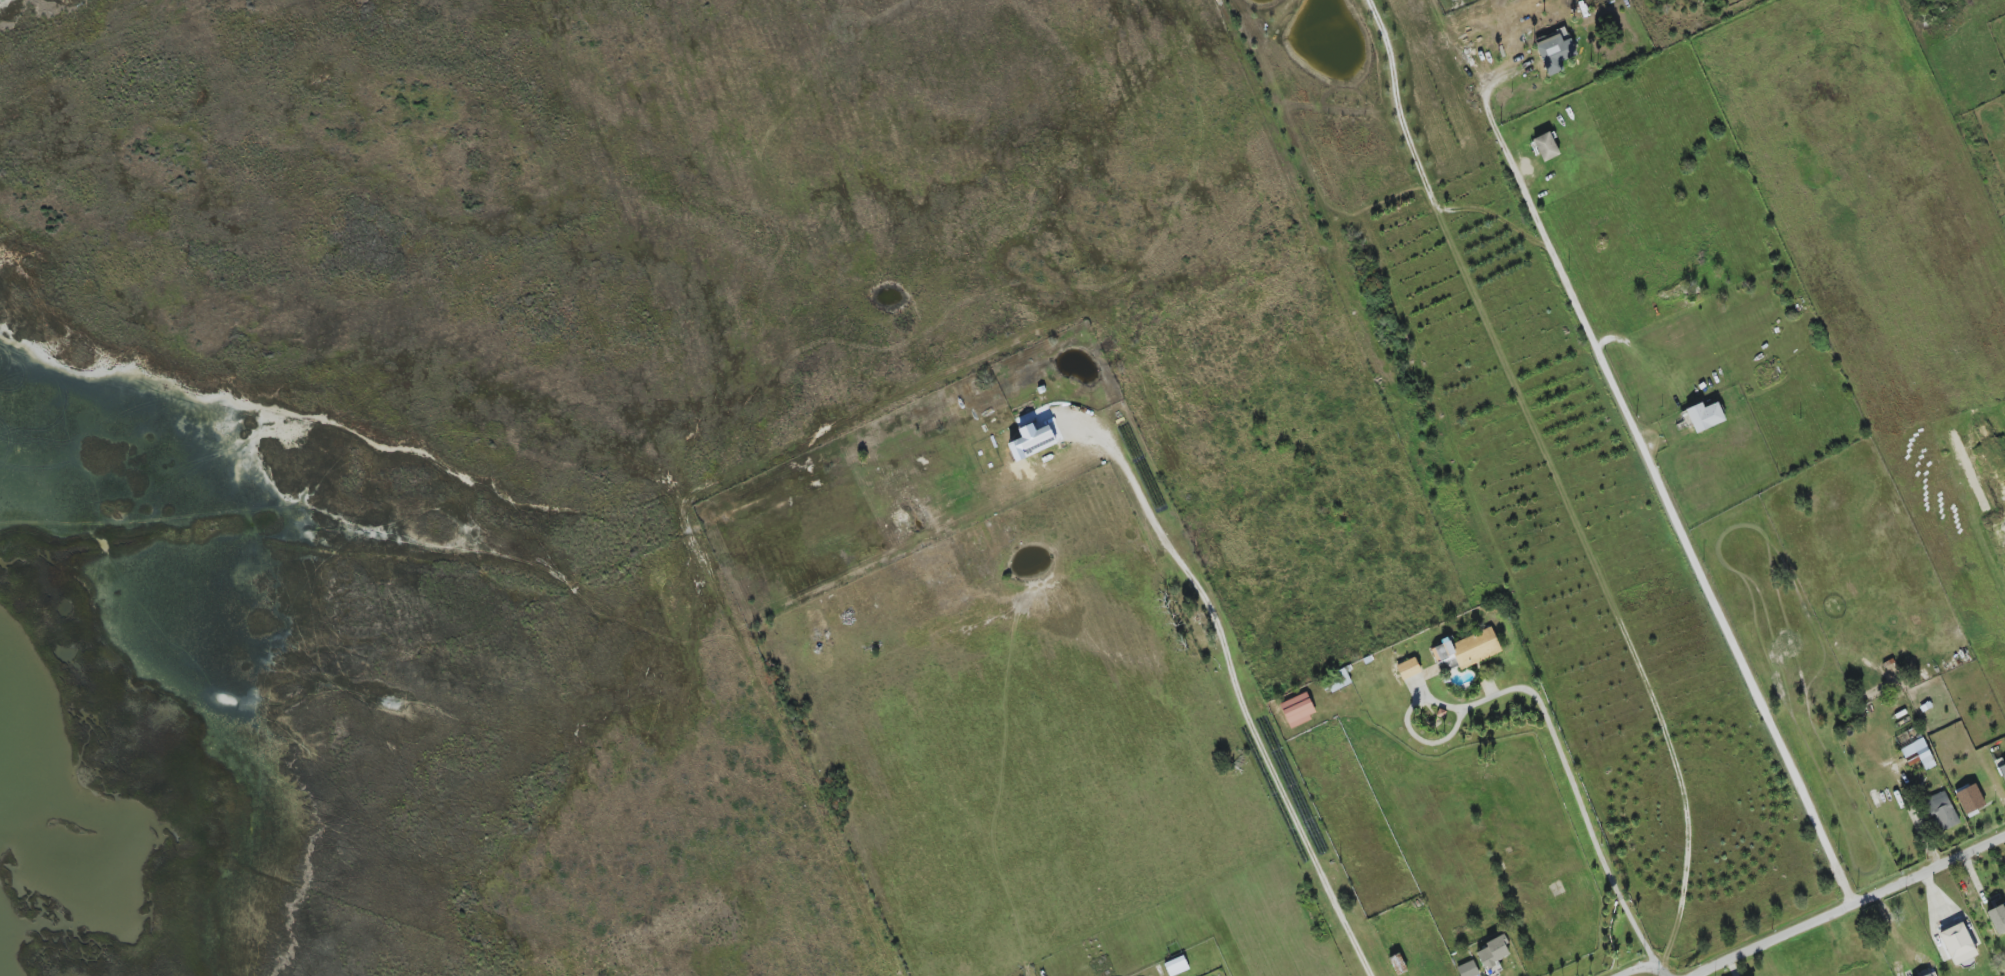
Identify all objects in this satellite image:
building: (1555, 52)
road: (1499, 95)
building: (1546, 146)
road: (1419, 167)
building: (1705, 416)
building: (1036, 441)
road: (1681, 522)
building: (1466, 650)
building: (1408, 668)
building: (1335, 681)
road: (1238, 689)
building: (1298, 709)
building: (1919, 753)
building: (2002, 772)
building: (1969, 798)
building: (1941, 810)
road: (1592, 831)
road: (1852, 906)
building: (1997, 919)
building: (1957, 944)
building: (1493, 954)
building: (1176, 966)
road: (1639, 968)
building: (1468, 969)
road: (1663, 969)
building: (1930, 974)

